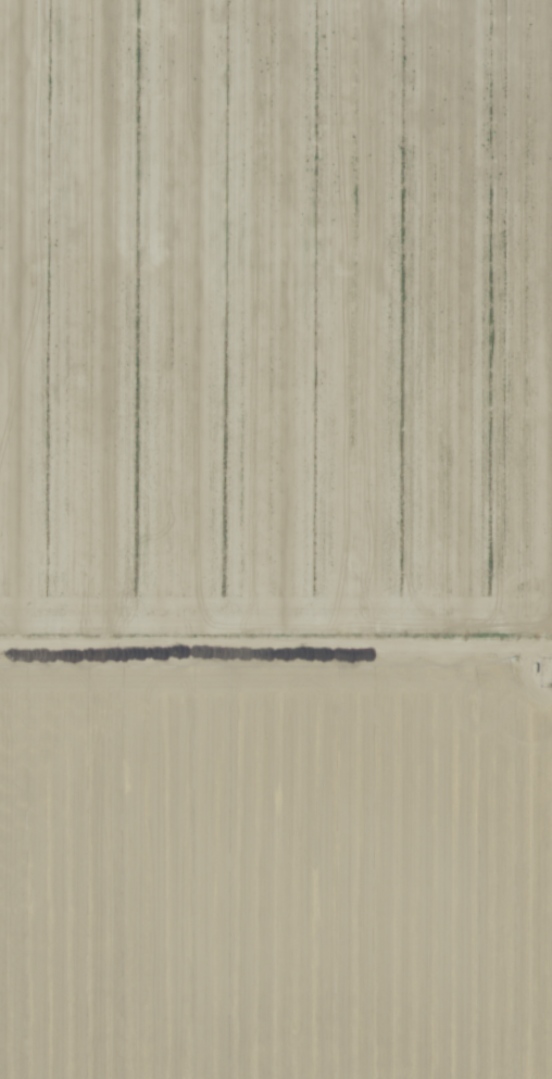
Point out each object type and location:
crop: (276, 539)

